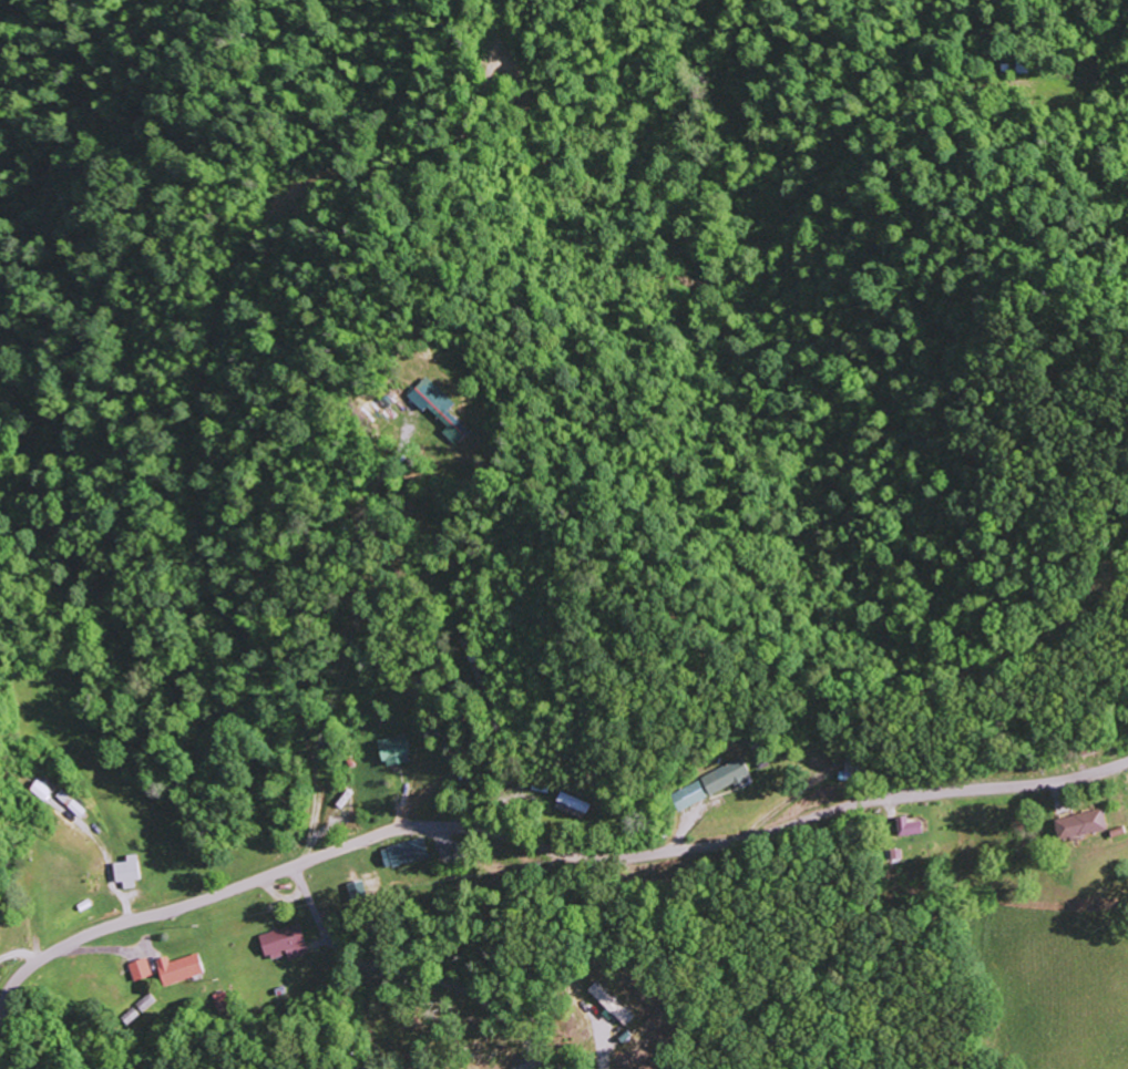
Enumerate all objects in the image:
building: (435, 409)
building: (392, 751)
building: (725, 777)
building: (40, 791)
building: (688, 796)
building: (70, 803)
building: (574, 804)
building: (1080, 825)
building: (907, 828)
road: (522, 841)
building: (403, 853)
building: (126, 873)
building: (0, 939)
building: (284, 943)
building: (140, 969)
building: (178, 969)
road: (409, 973)
building: (146, 1003)
building: (611, 1004)
road: (394, 1014)

